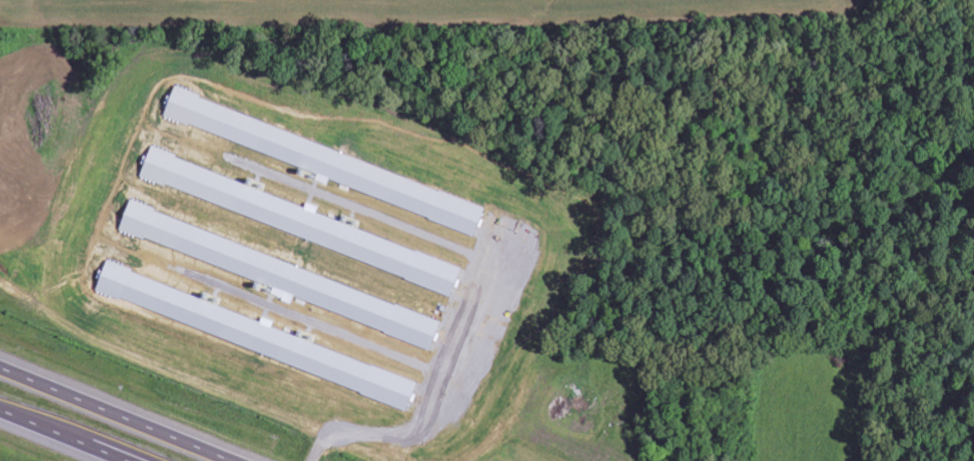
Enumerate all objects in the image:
building: (396, 322)
building: (330, 366)
road: (118, 413)
road: (69, 433)

